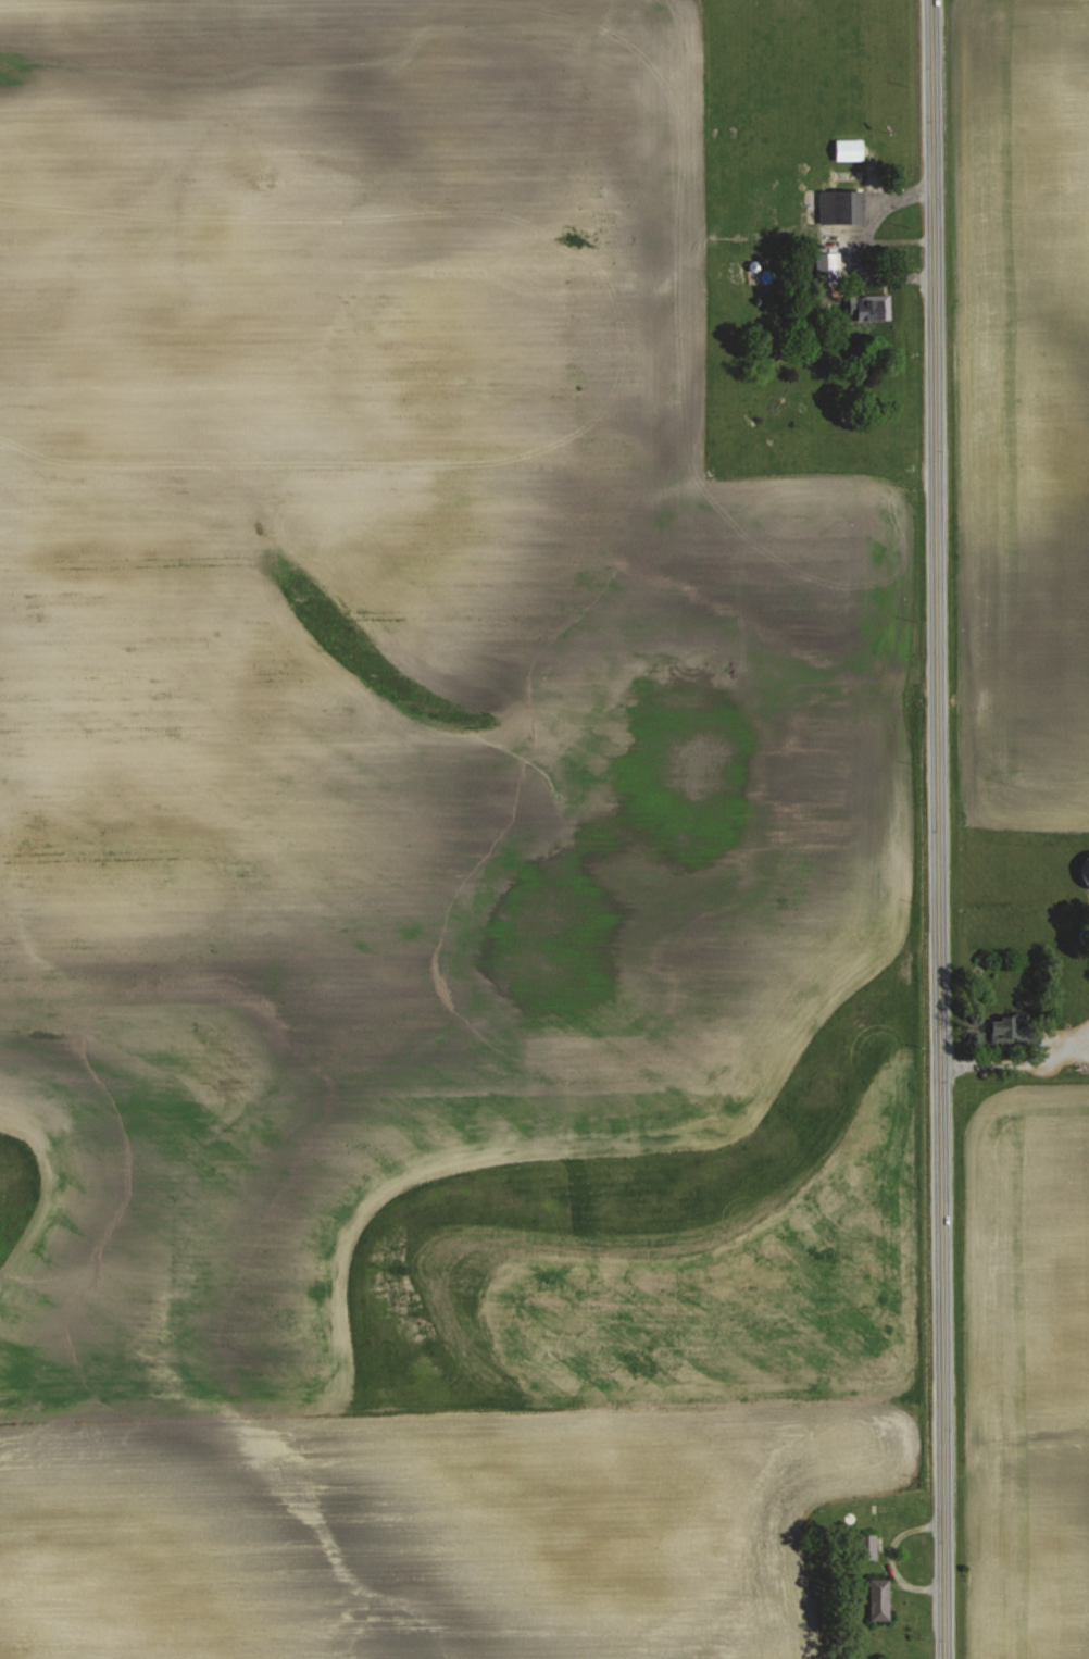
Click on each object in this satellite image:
building: (850, 149)
building: (843, 205)
building: (869, 308)
road: (941, 829)
building: (1087, 863)
building: (1015, 1028)
building: (868, 1546)
building: (880, 1598)

